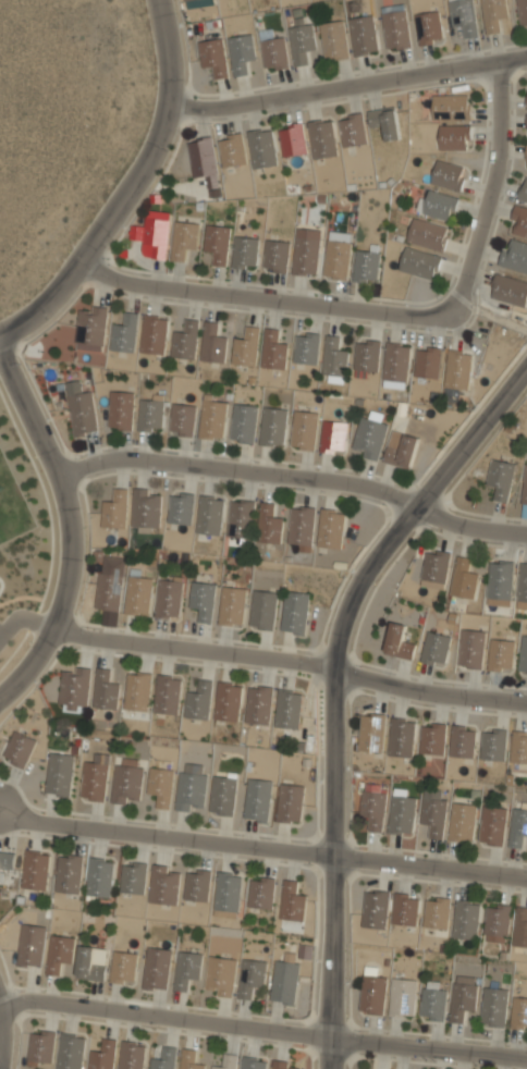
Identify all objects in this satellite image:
building: (188, 0)
building: (522, 12)
building: (493, 13)
building: (463, 16)
building: (395, 27)
building: (428, 27)
building: (363, 35)
building: (334, 39)
building: (302, 41)
building: (272, 51)
building: (241, 52)
building: (213, 56)
road: (351, 85)
building: (526, 95)
building: (451, 107)
building: (384, 122)
building: (526, 125)
building: (353, 131)
building: (454, 137)
building: (322, 139)
building: (292, 145)
building: (231, 149)
building: (261, 149)
building: (201, 156)
building: (526, 158)
building: (448, 174)
road: (489, 187)
road: (128, 188)
building: (523, 191)
building: (437, 205)
building: (519, 223)
building: (427, 234)
building: (152, 235)
building: (184, 238)
building: (217, 243)
building: (306, 251)
building: (244, 253)
building: (338, 255)
building: (275, 256)
building: (514, 256)
building: (419, 262)
building: (366, 265)
building: (508, 291)
road: (266, 297)
building: (90, 327)
building: (124, 334)
building: (154, 334)
building: (184, 340)
building: (211, 343)
building: (306, 347)
building: (245, 349)
building: (272, 351)
building: (367, 356)
building: (334, 357)
building: (395, 363)
building: (427, 364)
building: (457, 370)
building: (82, 409)
building: (120, 410)
building: (151, 413)
building: (212, 418)
building: (181, 419)
building: (243, 422)
building: (272, 427)
building: (304, 430)
building: (370, 433)
building: (333, 437)
building: (401, 450)
building: (500, 479)
road: (297, 480)
building: (525, 486)
building: (180, 507)
building: (146, 508)
building: (115, 509)
building: (209, 515)
building: (241, 518)
building: (269, 525)
building: (302, 527)
road: (69, 528)
building: (331, 529)
building: (434, 569)
building: (464, 579)
building: (500, 580)
building: (109, 583)
building: (522, 587)
building: (138, 592)
building: (168, 597)
building: (201, 599)
building: (232, 605)
building: (262, 609)
building: (294, 612)
building: (400, 642)
building: (436, 648)
building: (470, 648)
building: (501, 655)
building: (523, 655)
road: (292, 669)
building: (75, 689)
road: (333, 689)
building: (105, 690)
building: (137, 691)
building: (167, 693)
building: (198, 701)
building: (228, 701)
building: (259, 704)
building: (289, 709)
building: (371, 732)
building: (402, 738)
building: (432, 739)
building: (462, 742)
building: (494, 745)
building: (518, 748)
building: (19, 749)
building: (59, 774)
building: (126, 779)
building: (94, 781)
building: (160, 785)
building: (191, 787)
building: (222, 795)
building: (257, 800)
building: (290, 802)
building: (372, 804)
building: (401, 815)
building: (433, 816)
building: (462, 822)
building: (518, 824)
building: (492, 825)
road: (167, 835)
building: (7, 863)
road: (430, 869)
building: (36, 870)
building: (69, 873)
building: (99, 876)
building: (133, 876)
building: (164, 884)
building: (196, 884)
building: (260, 892)
building: (228, 893)
building: (292, 901)
building: (375, 909)
building: (405, 909)
building: (437, 913)
building: (465, 921)
building: (498, 924)
building: (520, 927)
building: (30, 945)
building: (59, 953)
building: (91, 962)
building: (123, 967)
building: (156, 969)
building: (186, 969)
building: (220, 975)
building: (250, 976)
building: (284, 979)
building: (371, 991)
building: (403, 996)
building: (464, 998)
building: (433, 1000)
building: (493, 1007)
building: (518, 1012)
road: (262, 1029)
building: (41, 1045)
building: (71, 1050)
building: (103, 1055)
building: (131, 1055)
building: (163, 1059)
building: (189, 1060)
building: (226, 1062)
building: (254, 1064)
building: (281, 1065)

